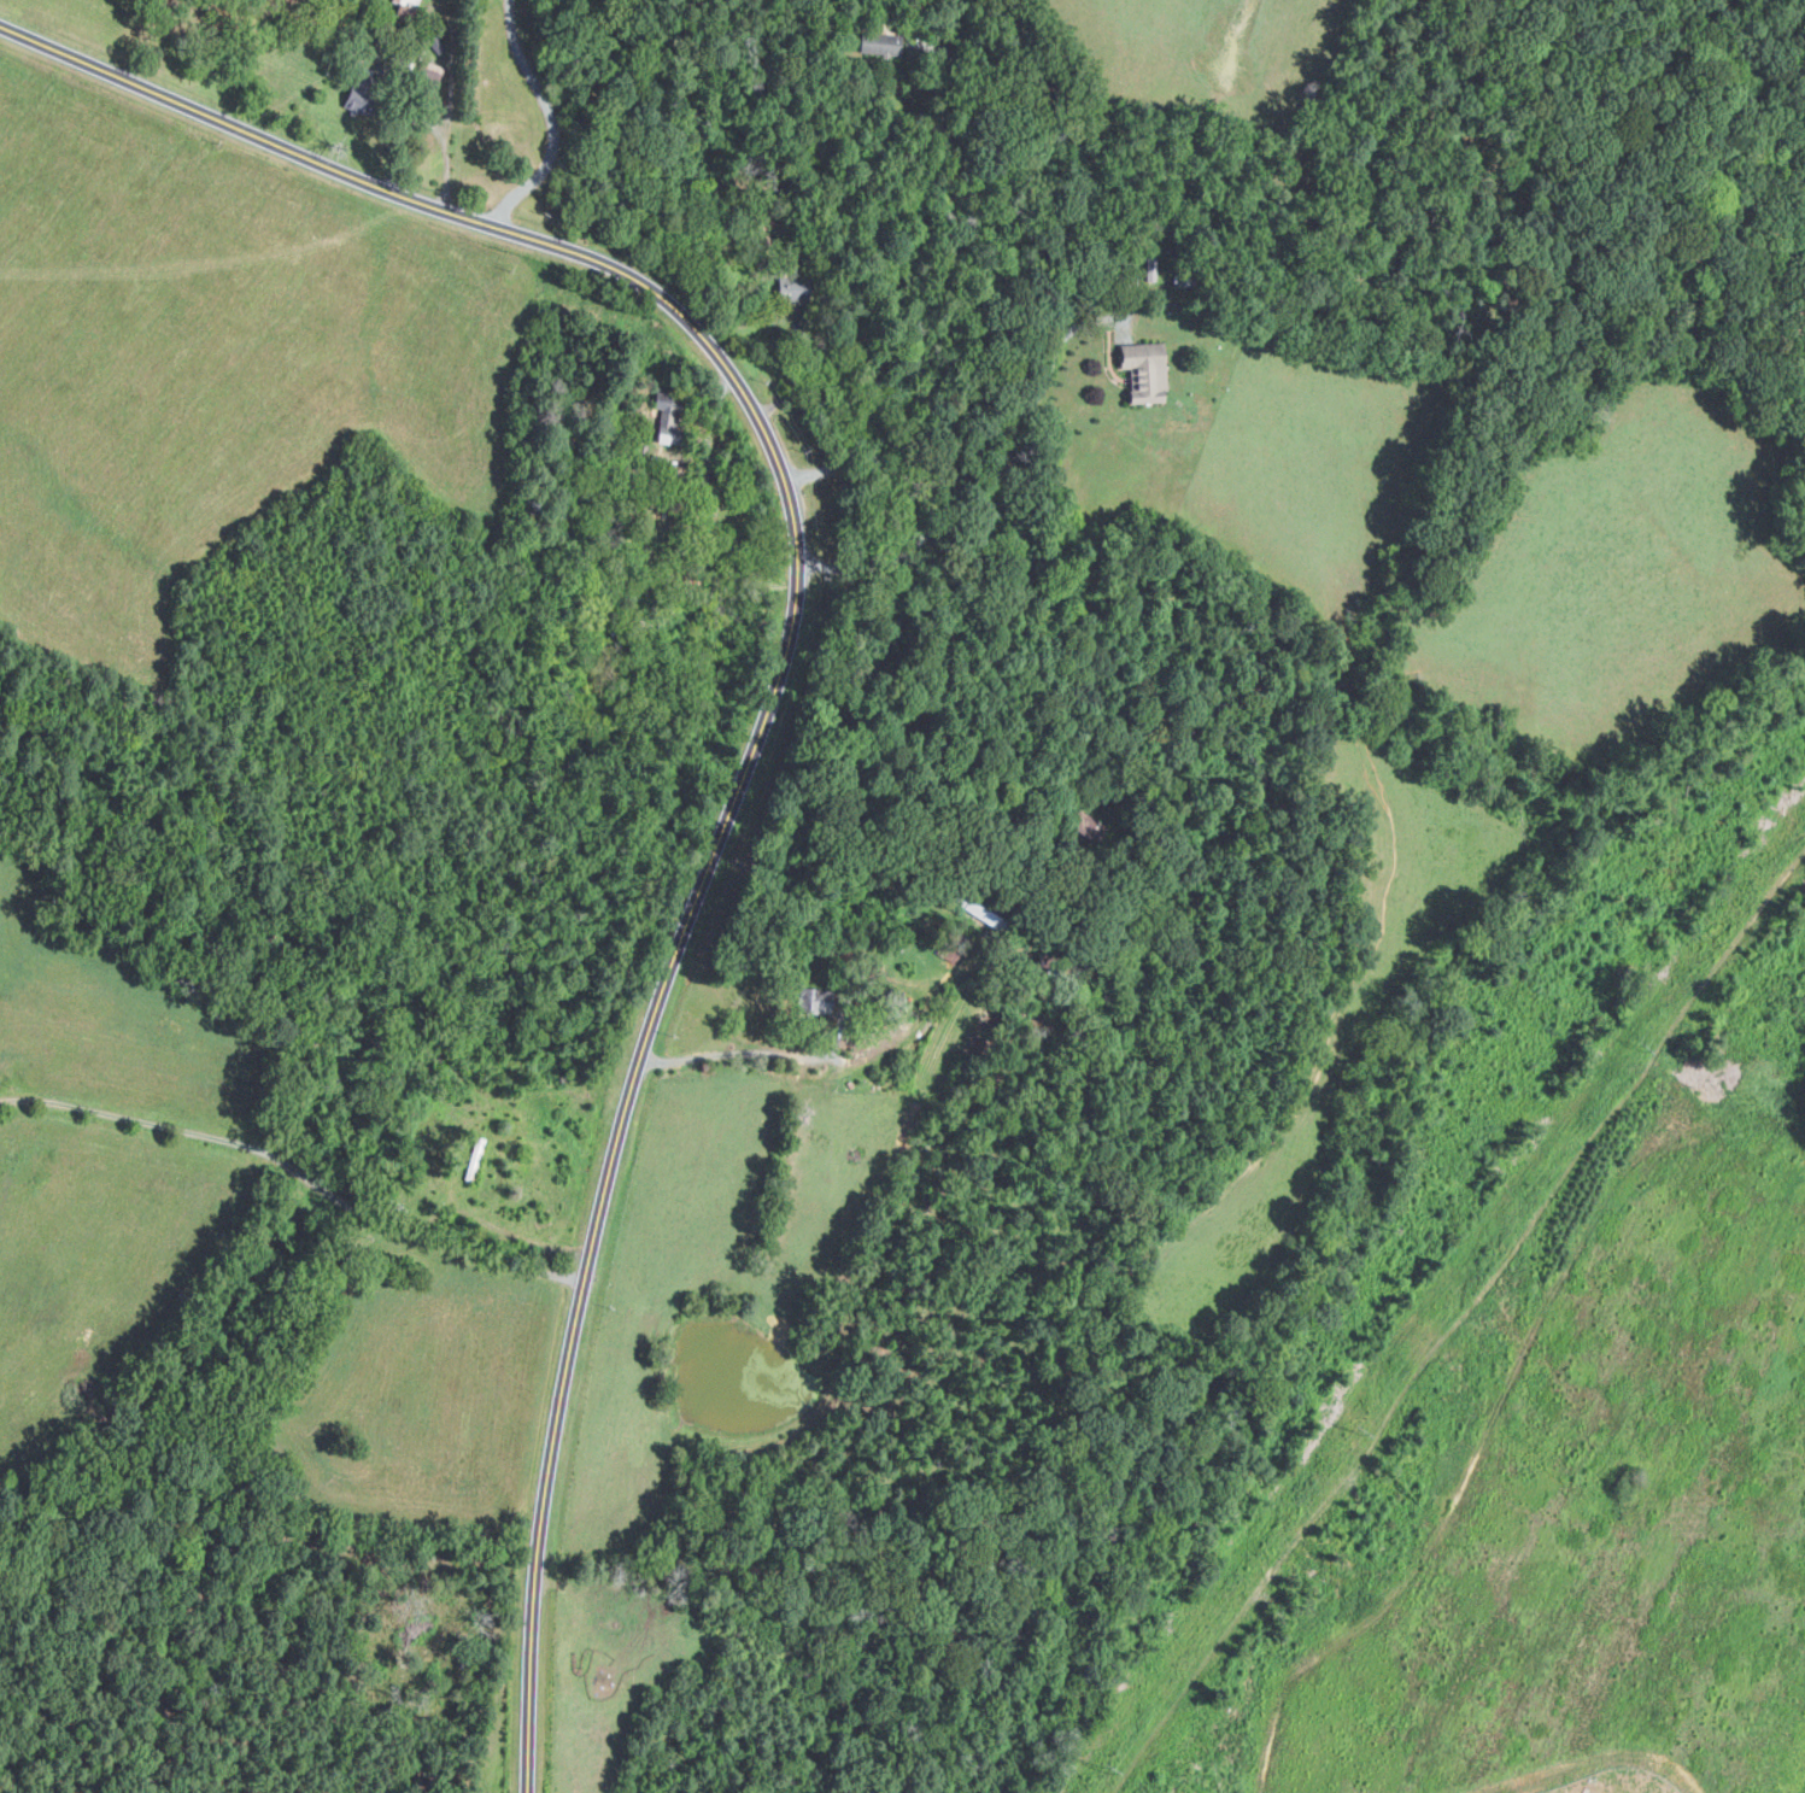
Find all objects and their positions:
road: (549, 118)
road: (903, 250)
building: (1142, 362)
road: (715, 414)
road: (965, 455)
road: (778, 676)
road: (762, 1053)
building: (468, 1155)
road: (299, 1176)

